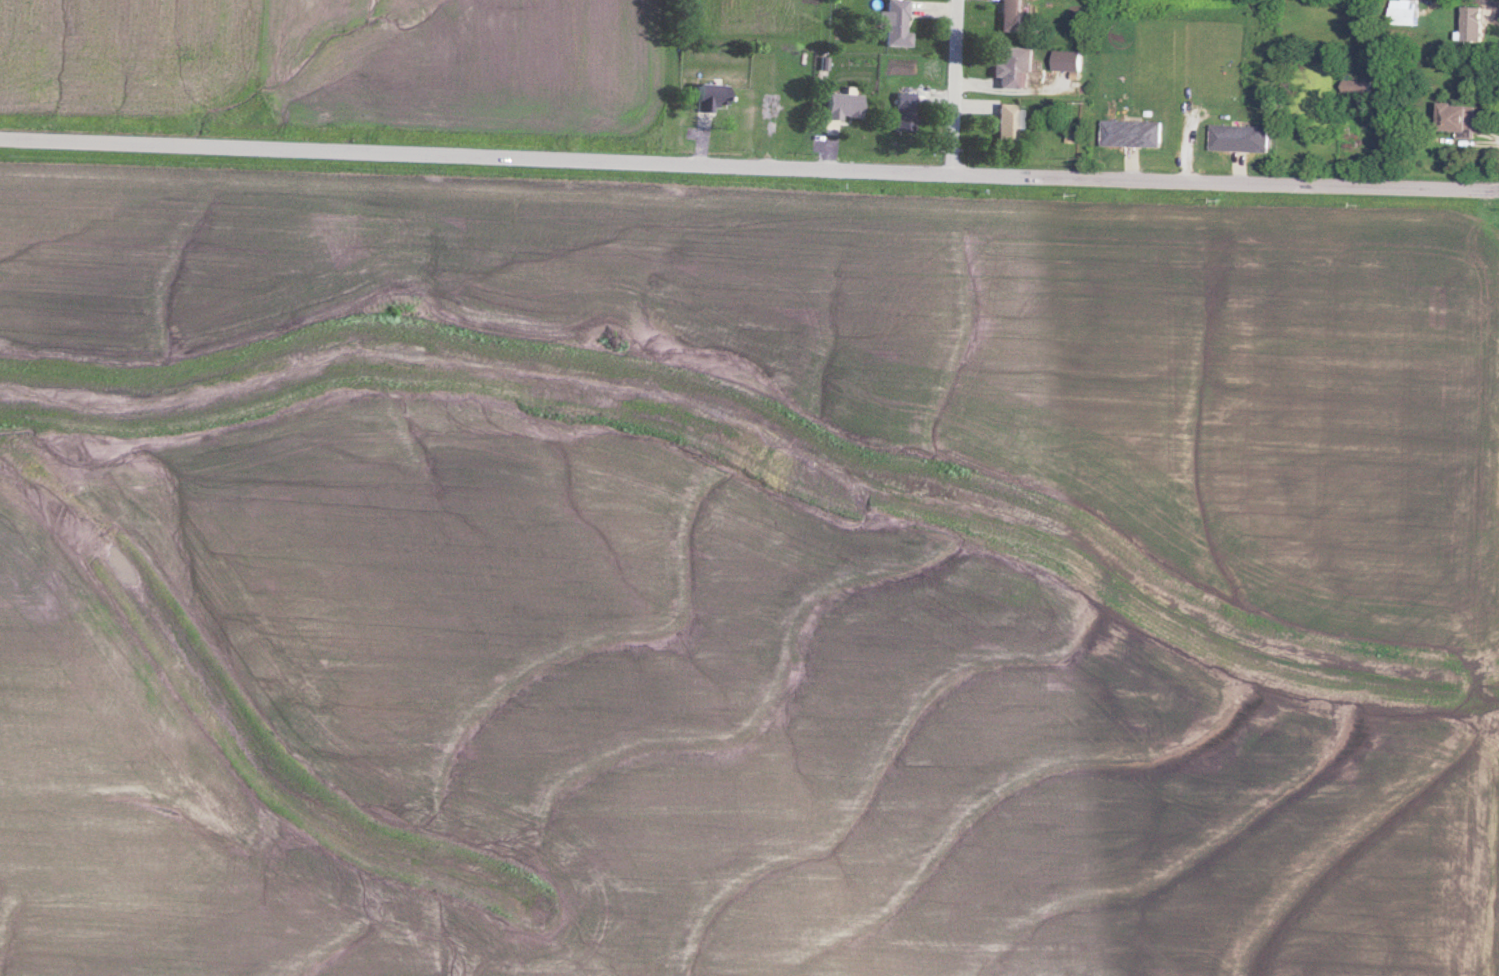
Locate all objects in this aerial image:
building: (1012, 15)
building: (1405, 15)
building: (897, 23)
building: (1475, 23)
building: (1068, 61)
building: (1013, 65)
road: (955, 87)
building: (1357, 88)
building: (711, 96)
building: (846, 105)
building: (906, 112)
building: (1458, 117)
building: (1008, 123)
building: (1132, 133)
building: (1241, 138)
road: (328, 155)
road: (1078, 179)

